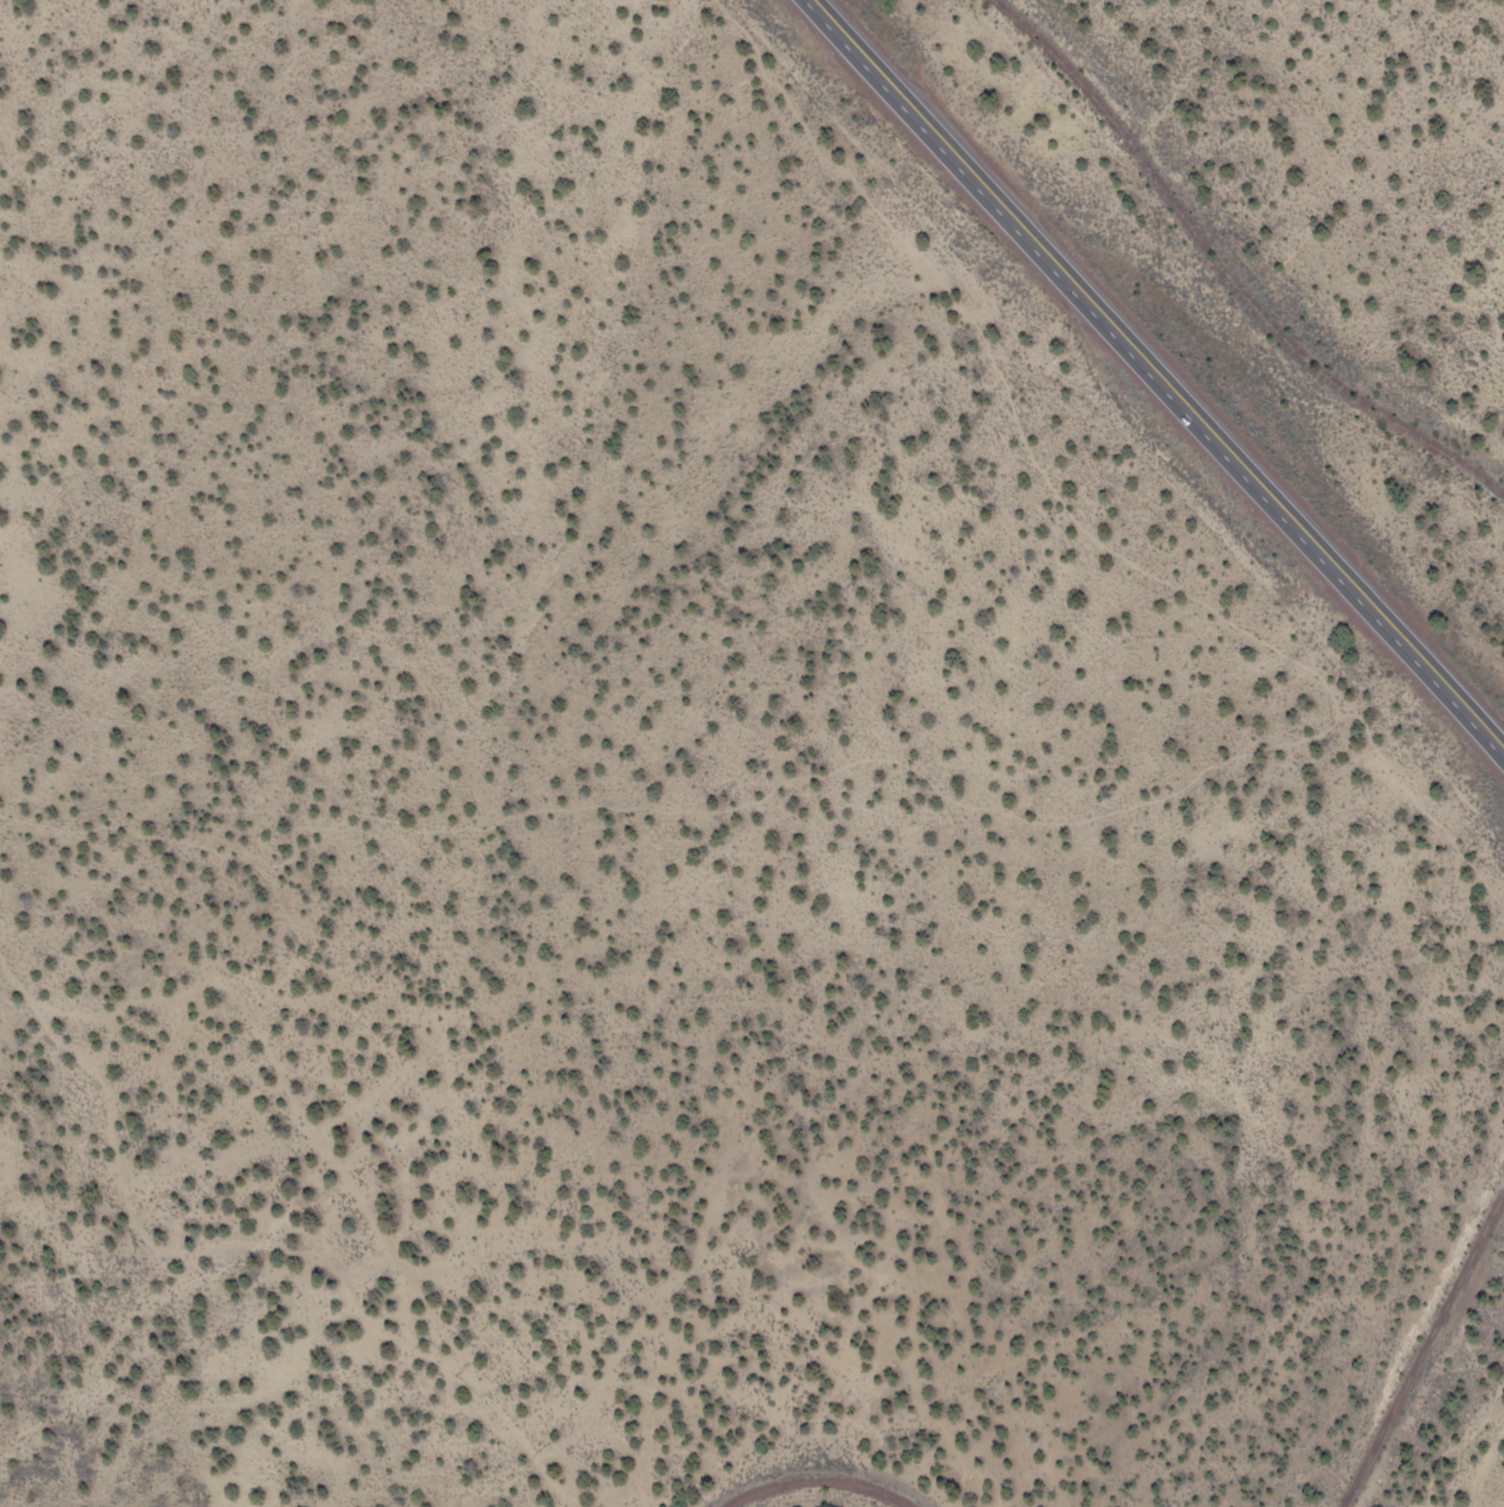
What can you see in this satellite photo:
road: (1159, 374)
road: (1413, 799)
road: (1142, 803)
road: (277, 1223)
road: (1425, 1353)
road: (819, 1486)

